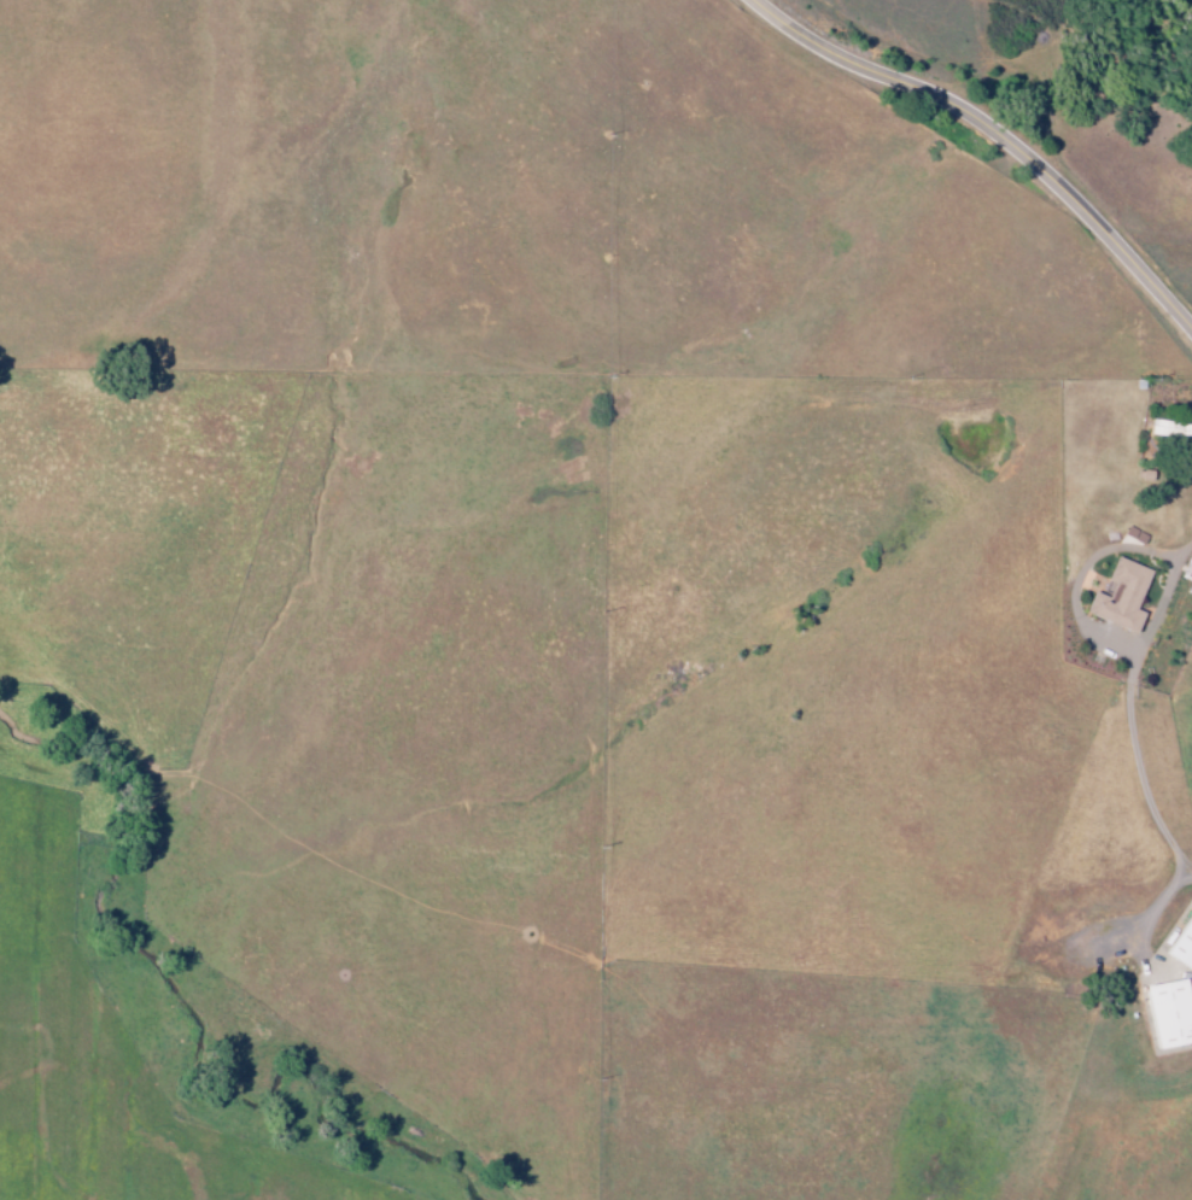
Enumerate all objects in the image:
road: (997, 131)
building: (1168, 429)
building: (1188, 570)
building: (1116, 597)
road: (1145, 789)
building: (1180, 946)
building: (1164, 1013)

